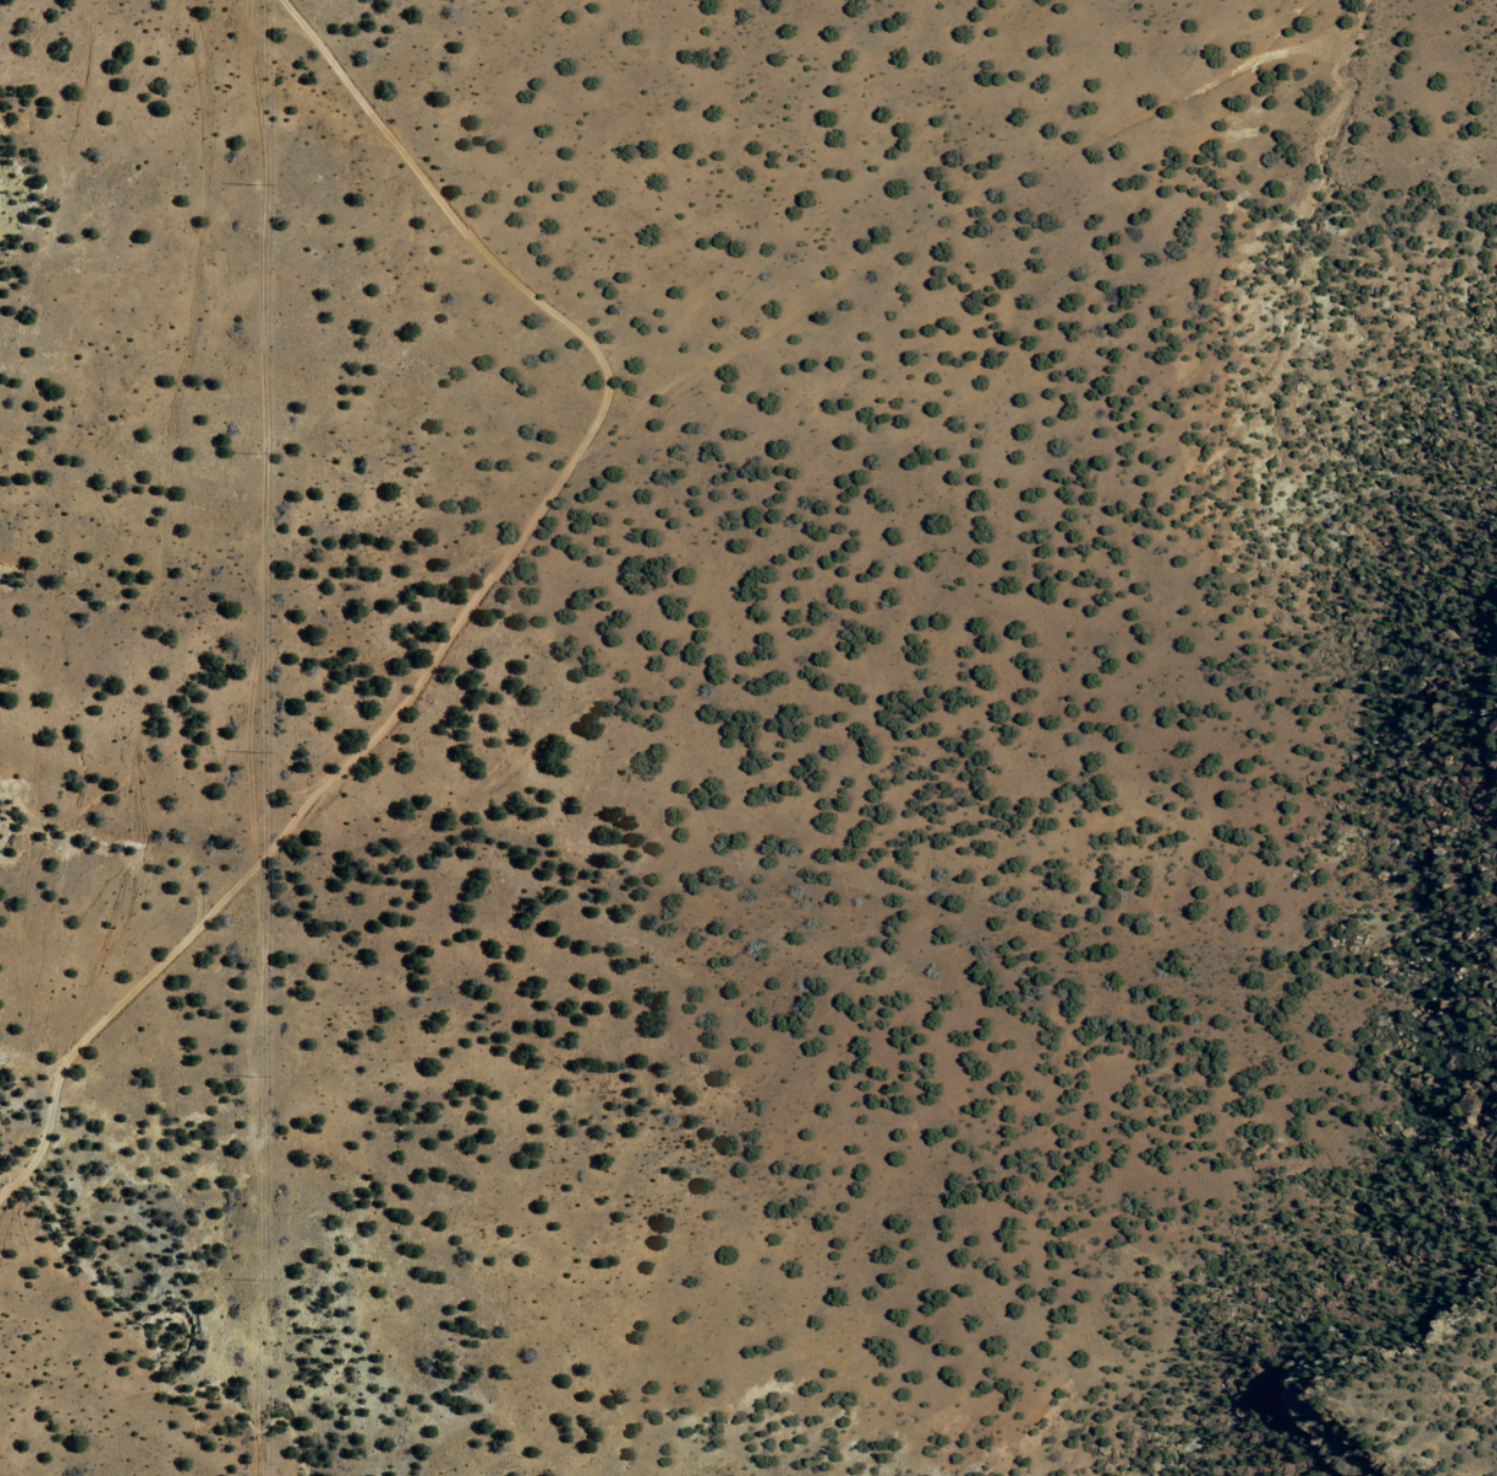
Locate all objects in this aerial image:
road: (1478, 14)
road: (449, 223)
road: (558, 481)

